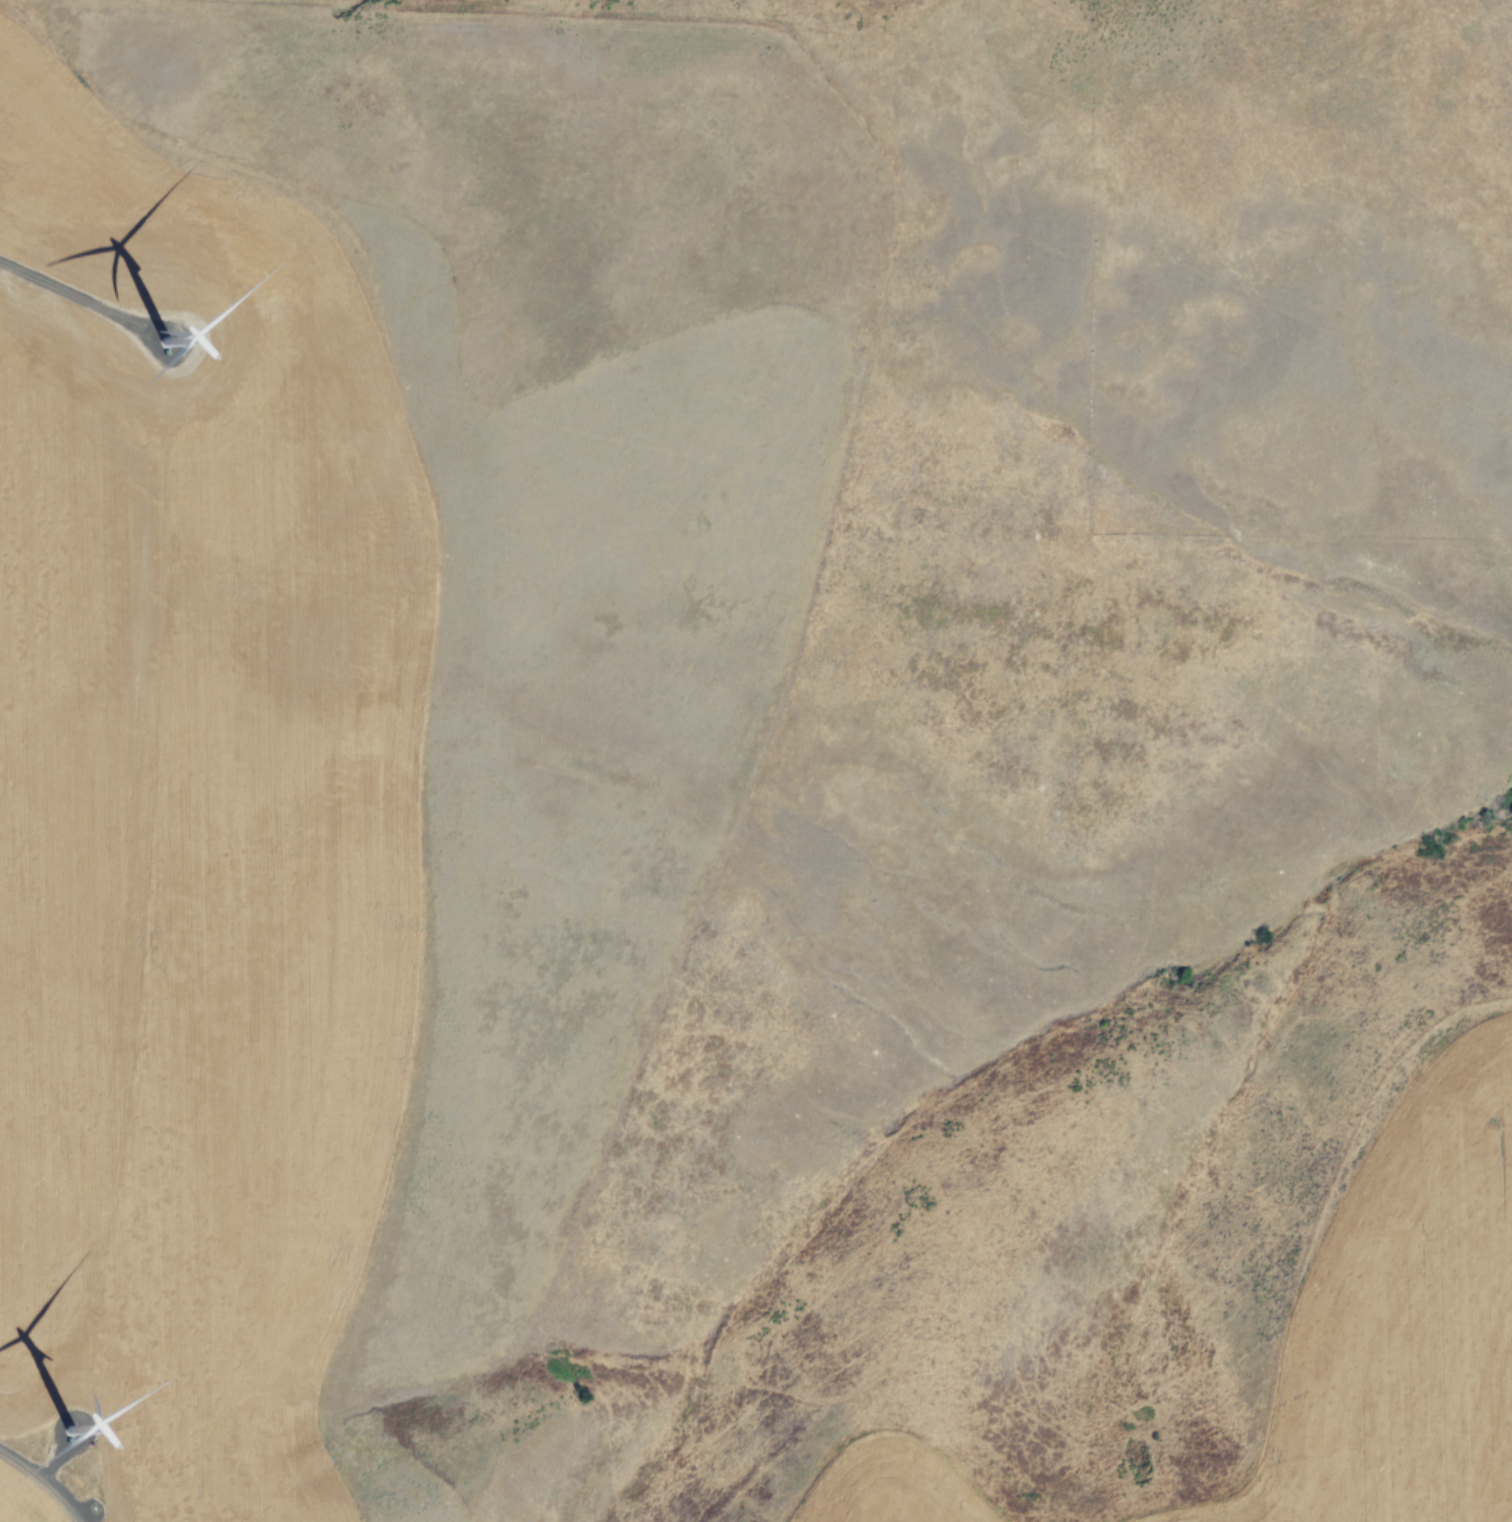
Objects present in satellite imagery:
road: (56, 288)
wind turbine: (165, 340)
wind turbine: (72, 1429)

